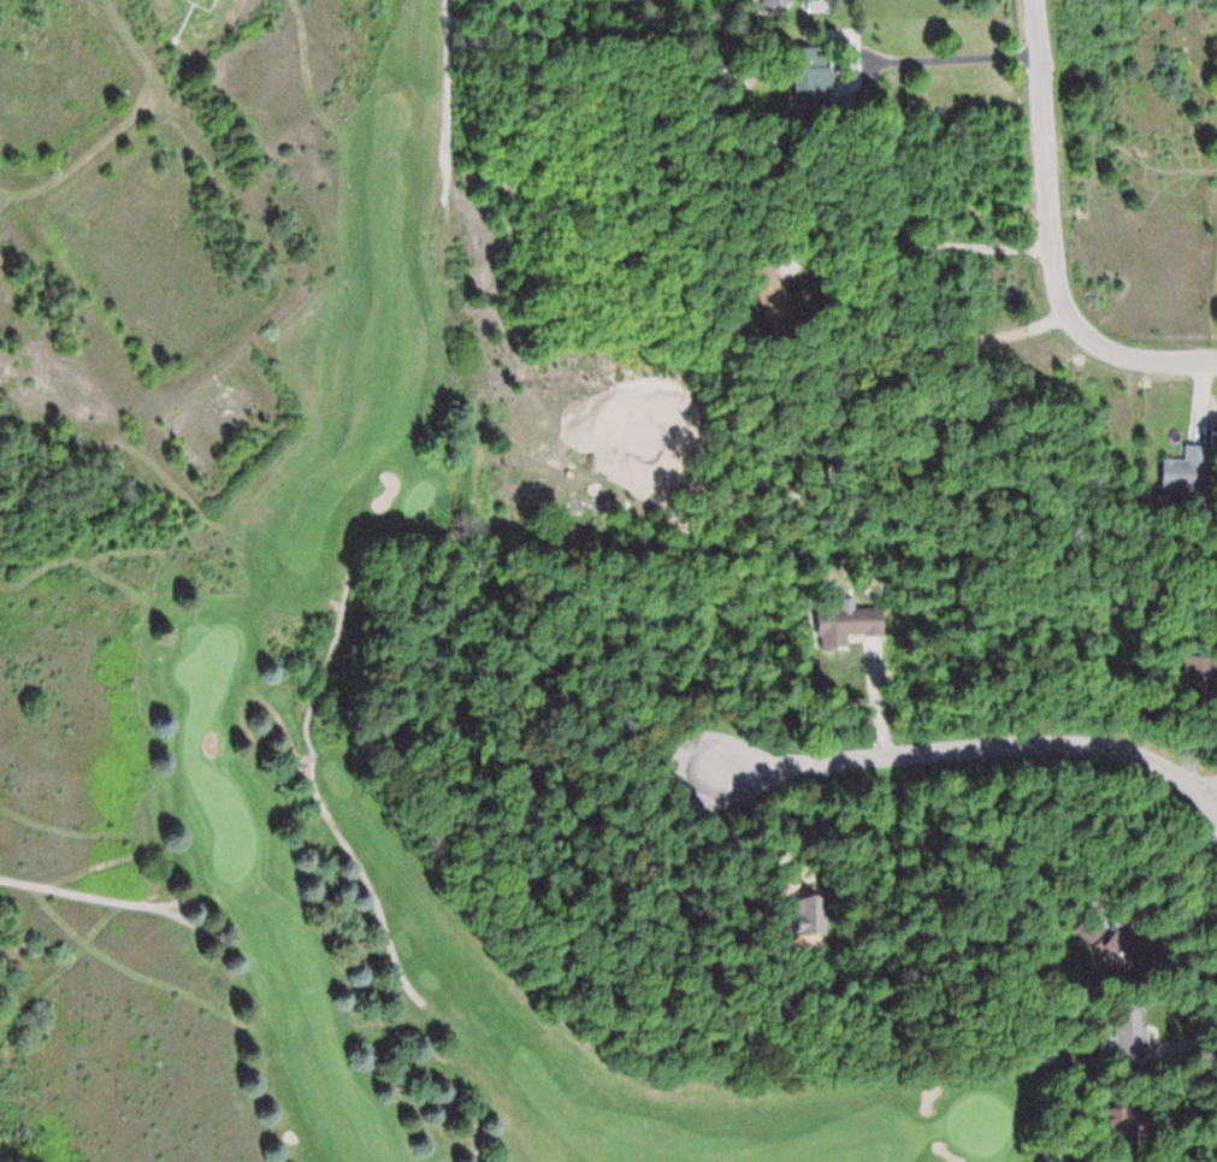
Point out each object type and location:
building: (778, 4)
building: (819, 83)
road: (447, 104)
road: (1048, 241)
building: (1187, 470)
building: (839, 625)
park: (296, 635)
building: (1200, 667)
road: (976, 748)
road: (314, 788)
road: (1213, 803)
road: (118, 901)
building: (1139, 1025)

